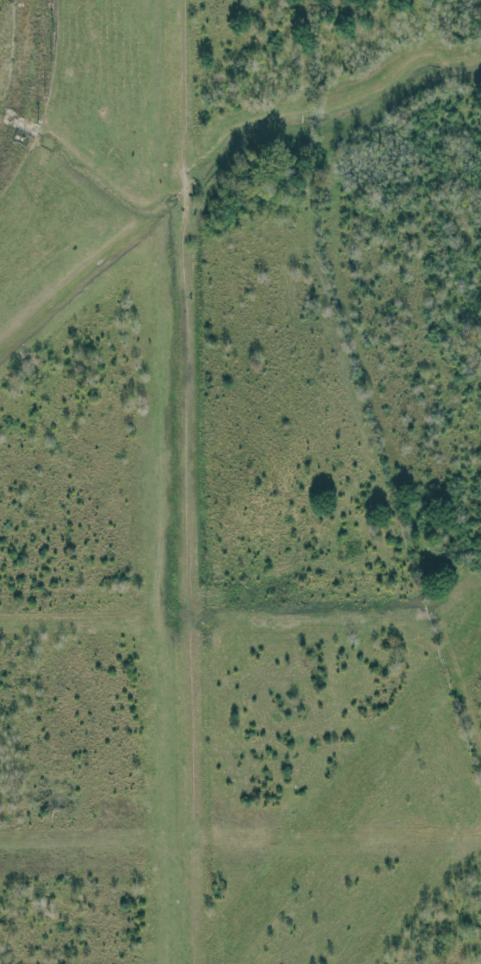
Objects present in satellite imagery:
road: (198, 574)
road: (340, 580)

